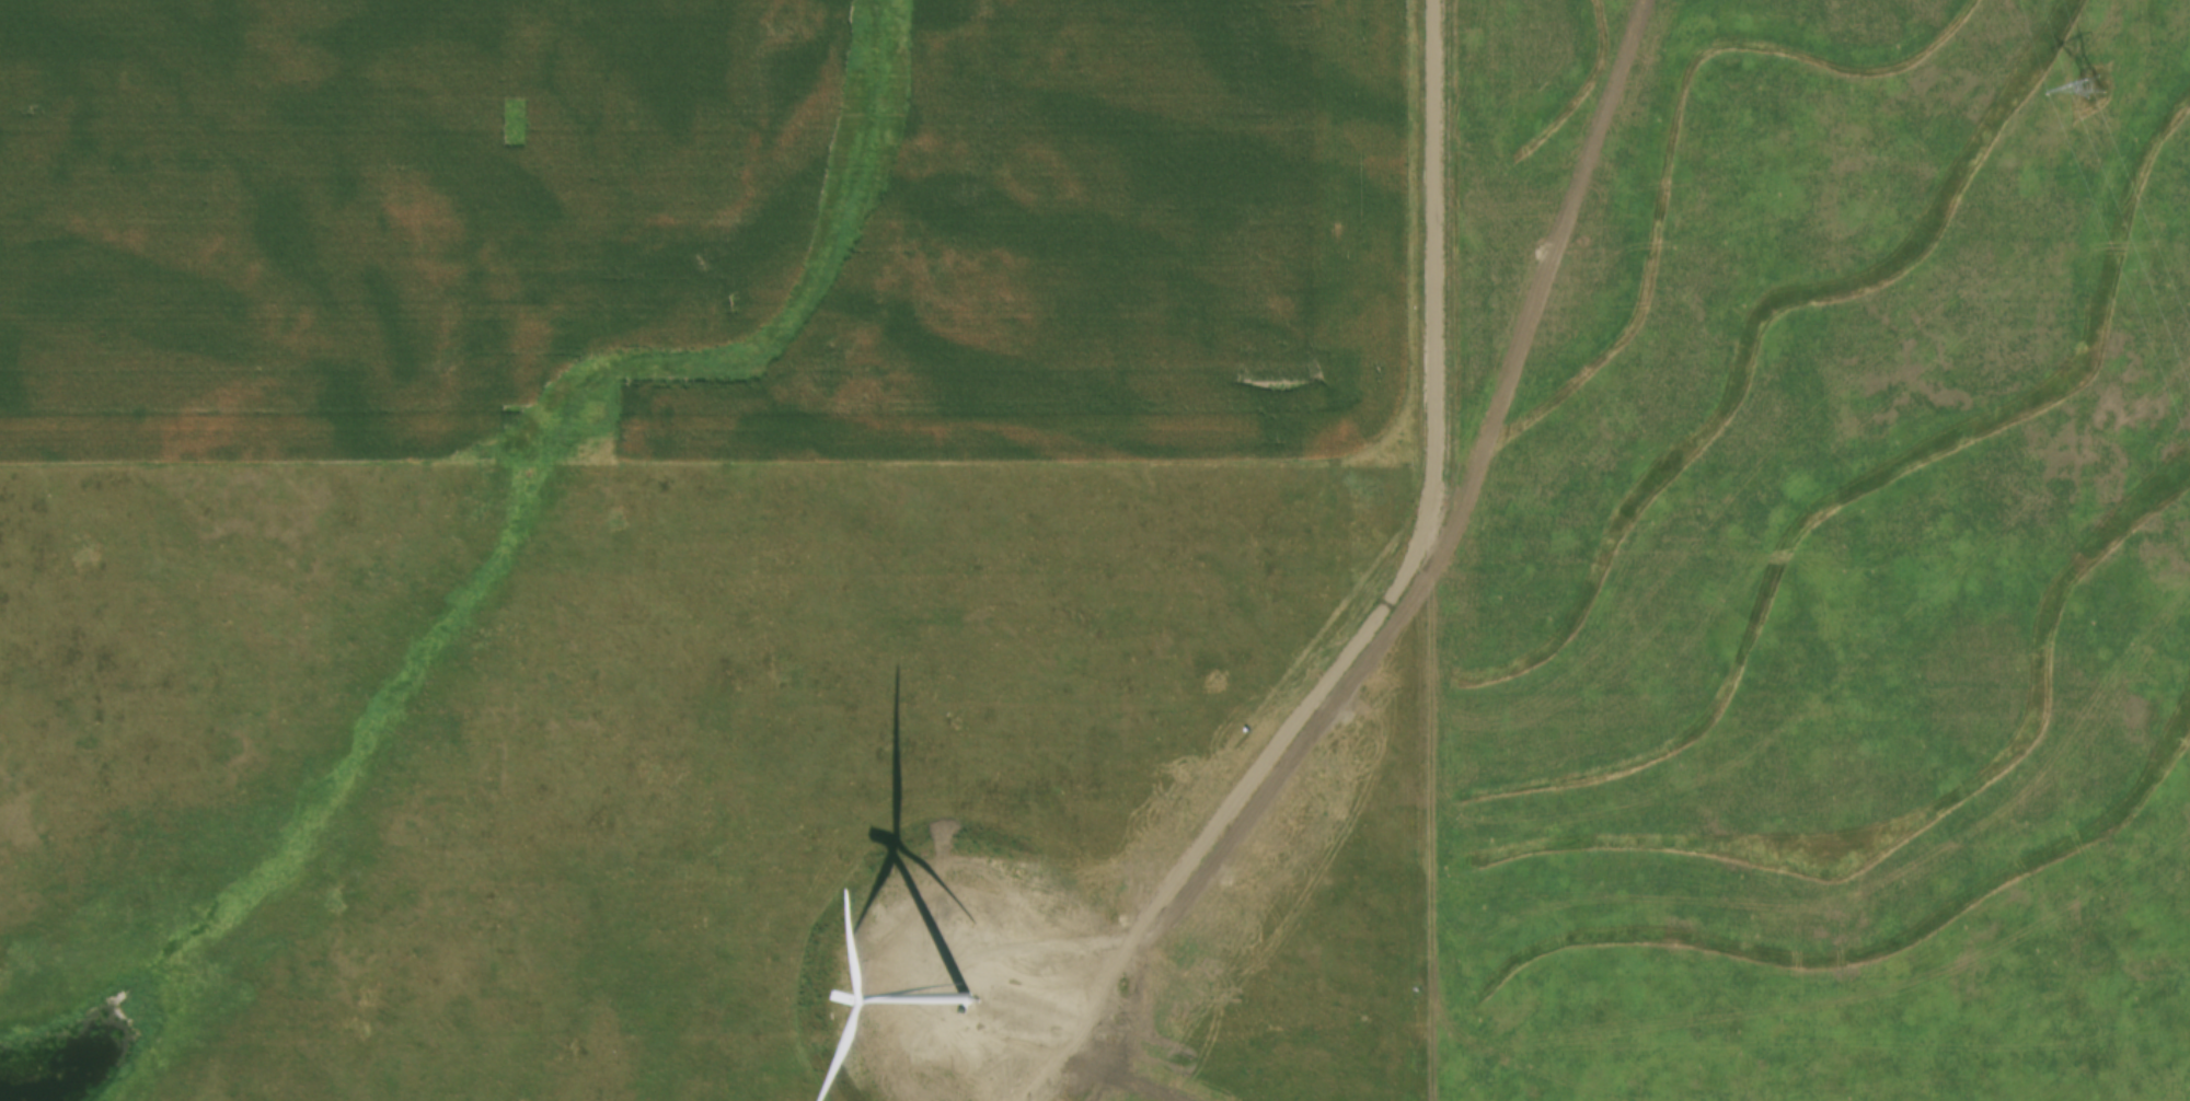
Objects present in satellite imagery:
power tower: (2098, 85)
wind turbine: (960, 998)

